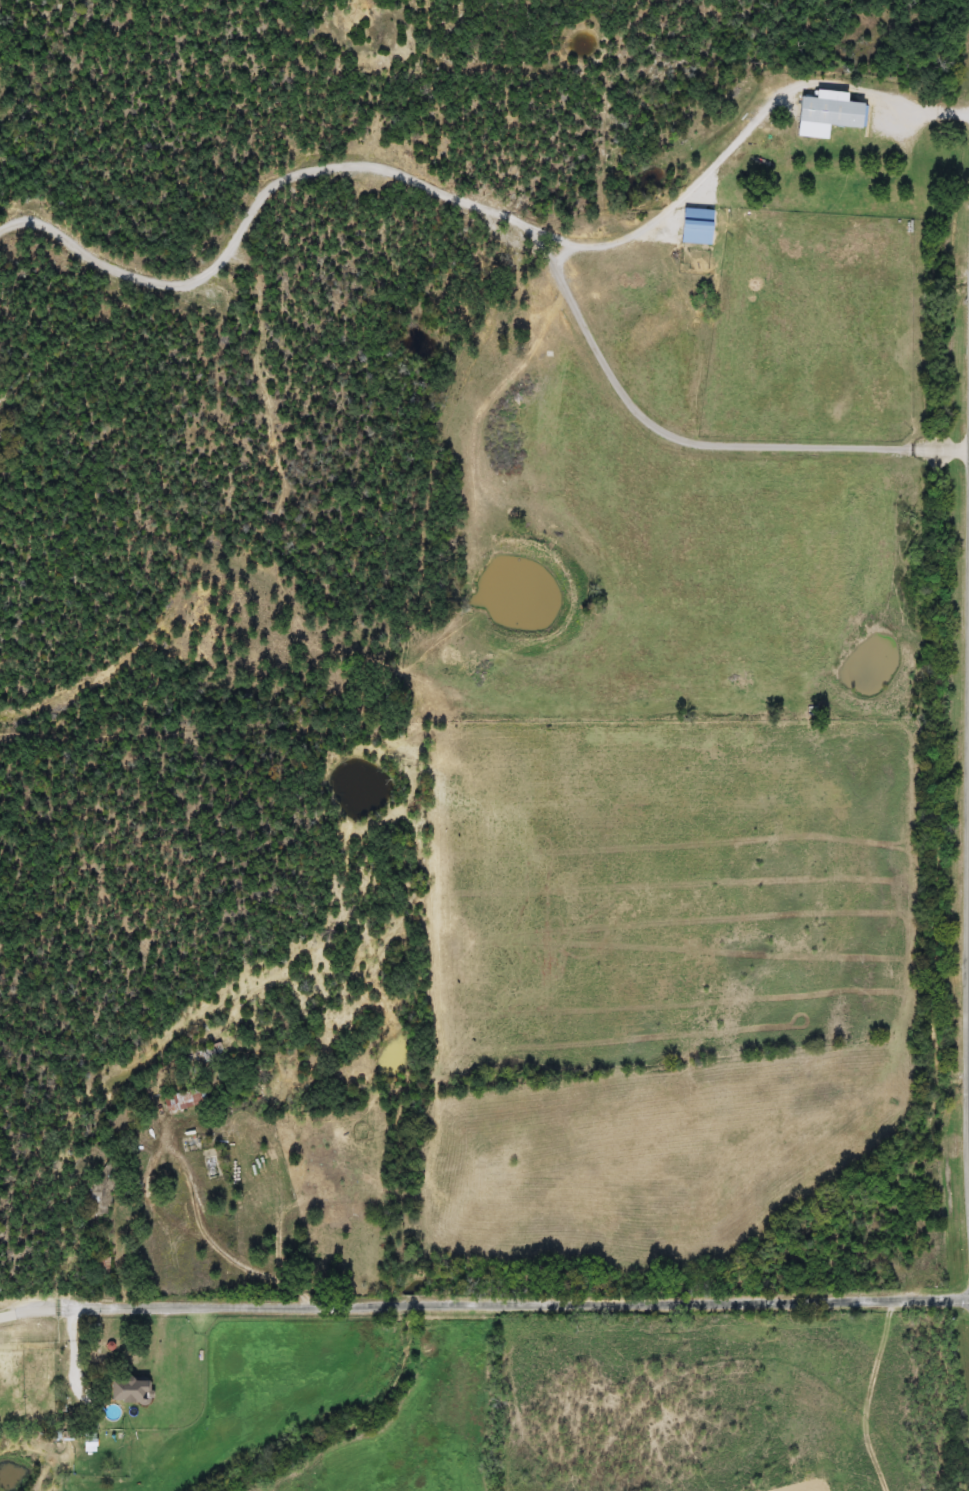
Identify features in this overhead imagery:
building: (827, 110)
building: (181, 1100)
road: (217, 1242)
building: (102, 1266)
road: (638, 1296)
road: (153, 1303)
building: (124, 1389)

